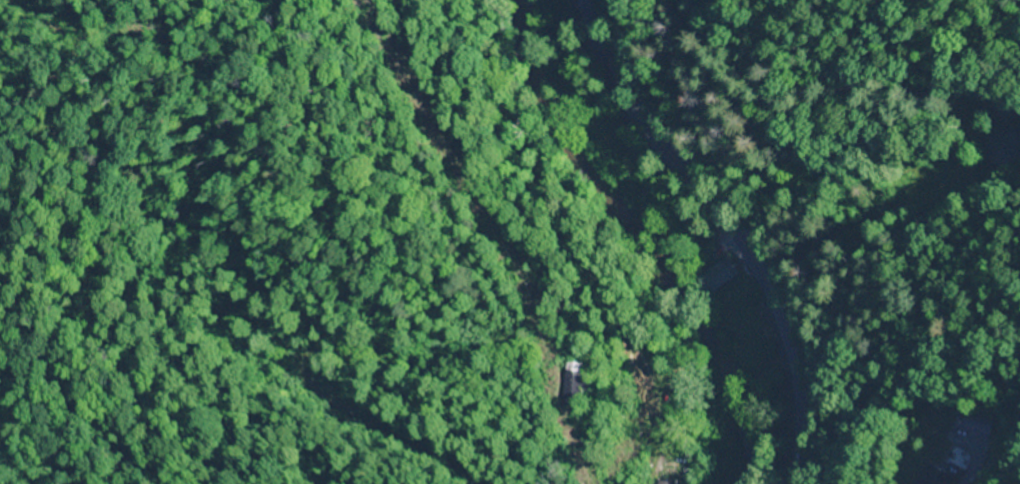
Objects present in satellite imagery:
building: (999, 148)
road: (727, 228)
building: (577, 386)
building: (926, 475)

